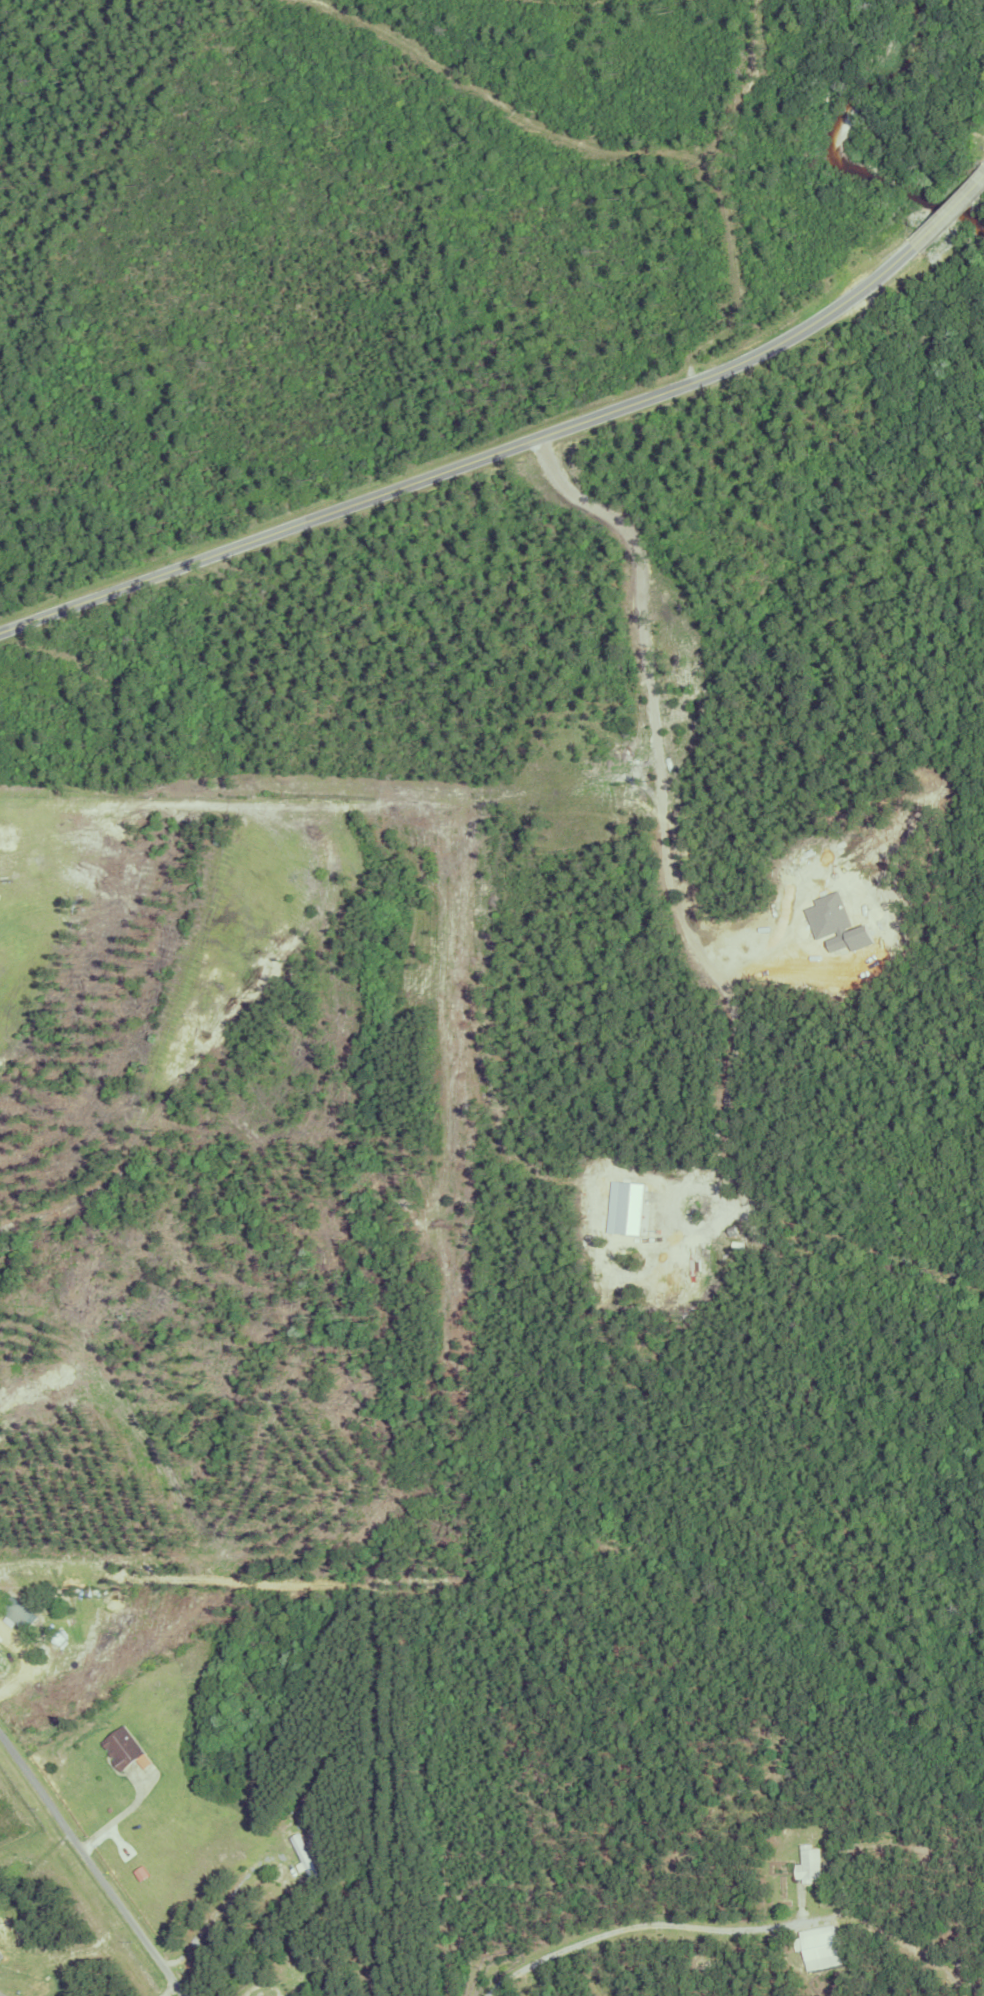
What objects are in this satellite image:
road: (514, 447)
building: (18, 1613)
road: (22, 1655)
building: (120, 1748)
building: (302, 1853)
road: (92, 1864)
building: (810, 1864)
building: (780, 1877)
road: (220, 1908)
road: (652, 1924)
building: (817, 1946)
building: (1, 1955)
building: (335, 1959)
road: (173, 1991)
building: (315, 1991)
building: (297, 1994)

